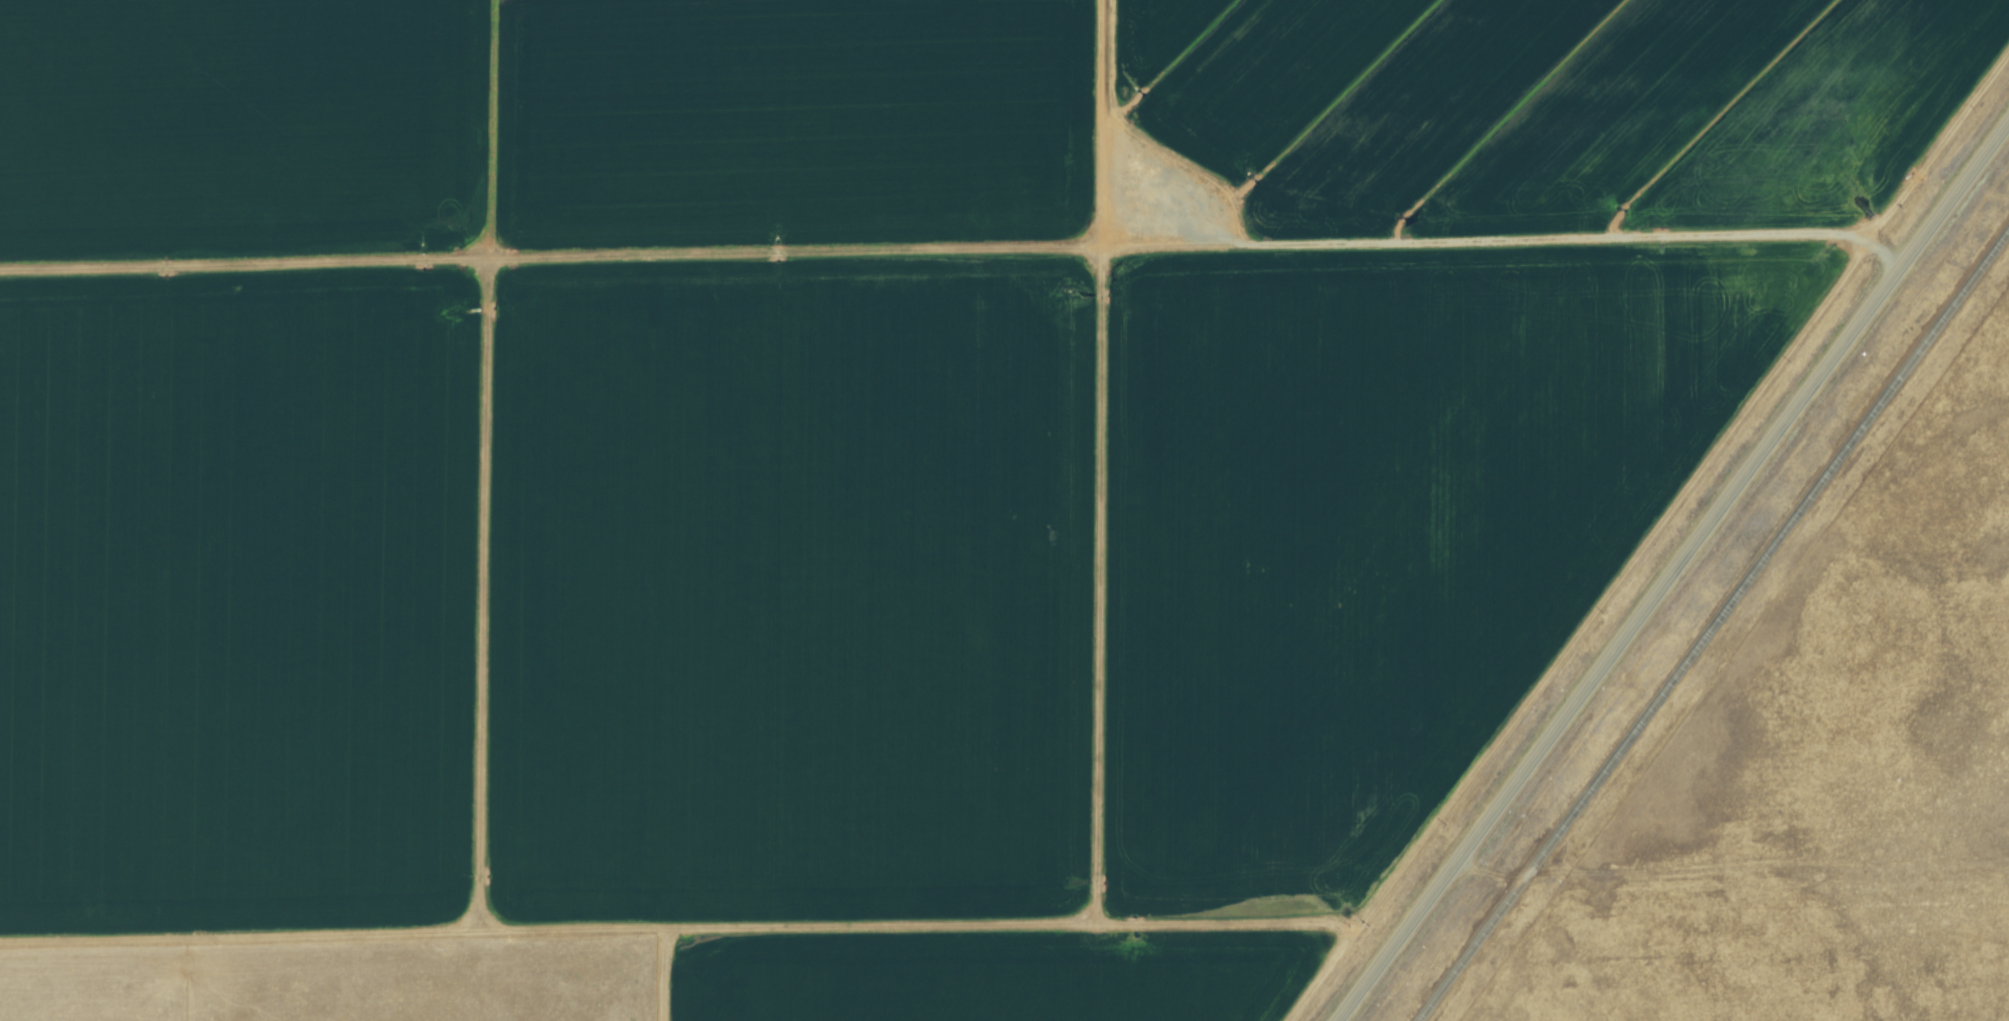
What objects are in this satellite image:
road: (956, 252)
road: (1674, 572)
railway: (1714, 625)
road: (1515, 874)

